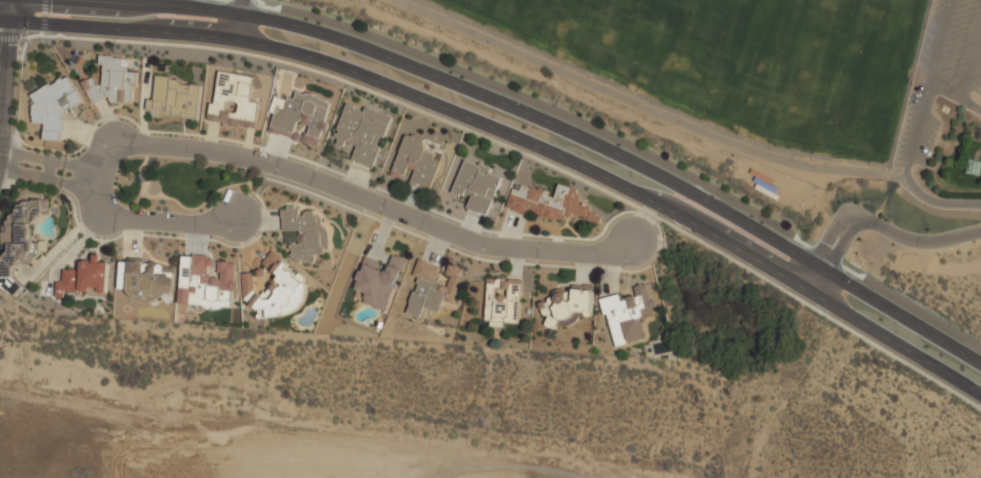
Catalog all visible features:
road: (7, 8)
road: (14, 8)
road: (237, 19)
parking lot: (930, 34)
parking lot: (958, 38)
road: (938, 42)
park: (740, 59)
road: (971, 61)
parking lot: (977, 78)
road: (4, 80)
building: (114, 82)
road: (955, 95)
building: (175, 99)
building: (234, 99)
building: (53, 106)
park: (761, 109)
building: (302, 117)
parking lot: (907, 126)
road: (725, 131)
road: (916, 131)
building: (362, 133)
road: (563, 133)
road: (0, 136)
road: (514, 136)
parking lot: (928, 140)
road: (48, 160)
building: (415, 163)
road: (275, 165)
road: (46, 179)
building: (478, 185)
road: (937, 202)
building: (551, 203)
road: (874, 225)
building: (307, 232)
building: (19, 241)
building: (85, 278)
building: (149, 280)
building: (379, 280)
building: (205, 281)
building: (434, 287)
building: (274, 288)
building: (503, 302)
building: (569, 304)
building: (629, 315)

